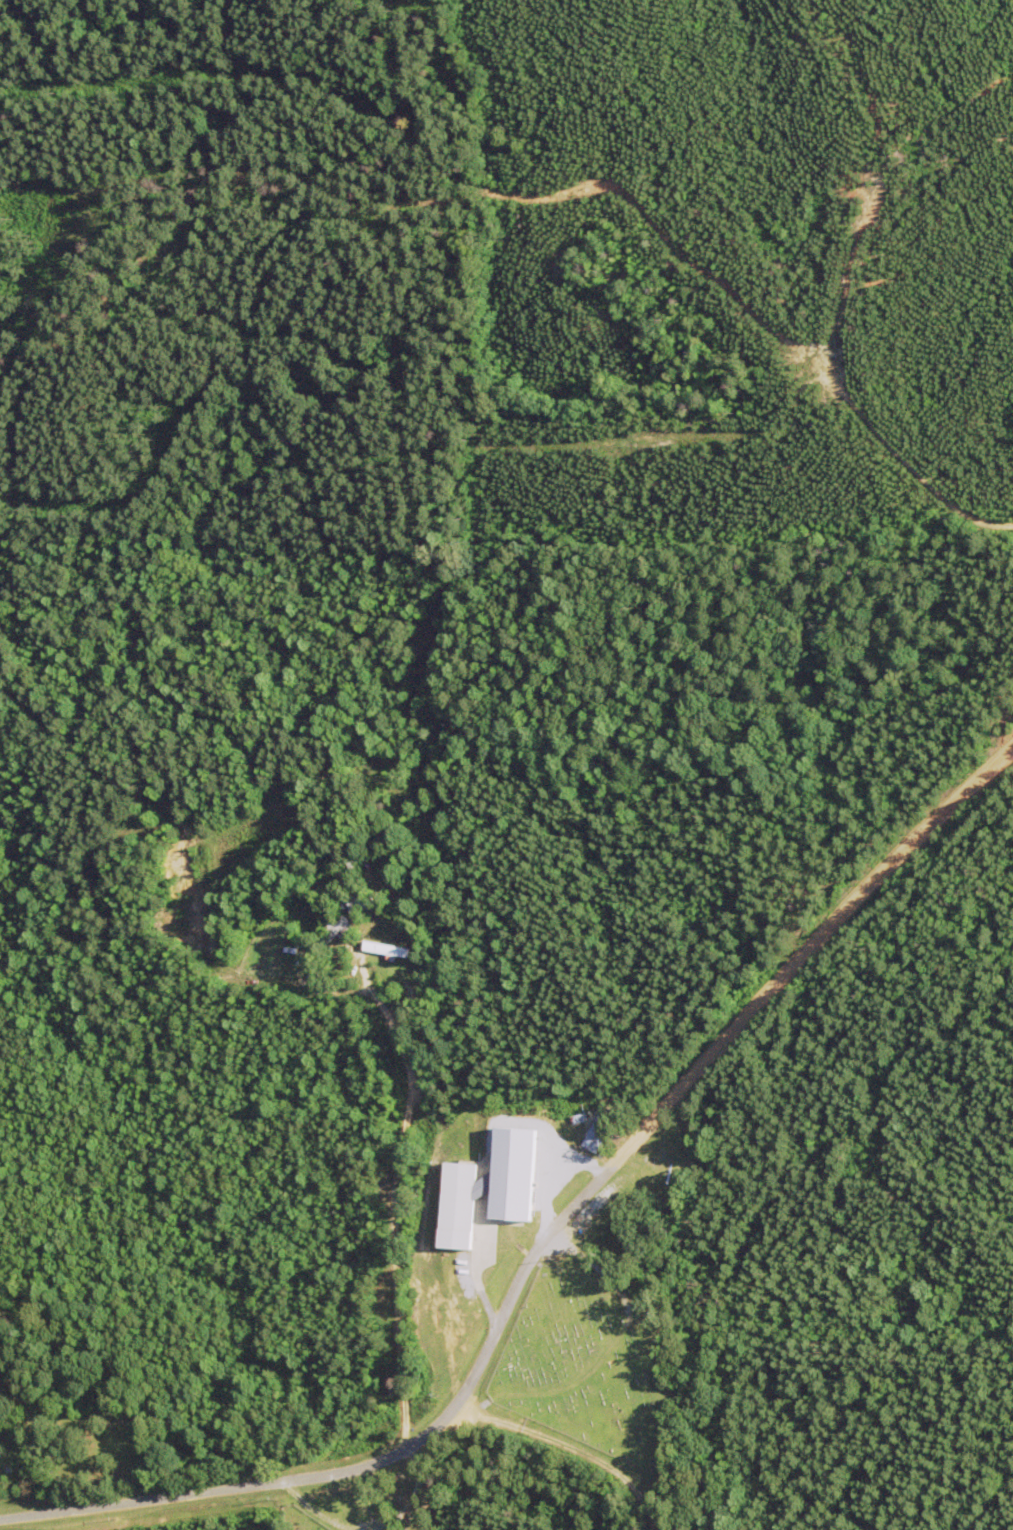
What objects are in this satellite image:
building: (361, 901)
building: (597, 1131)
building: (497, 1184)
road: (544, 1233)
road: (573, 1448)

